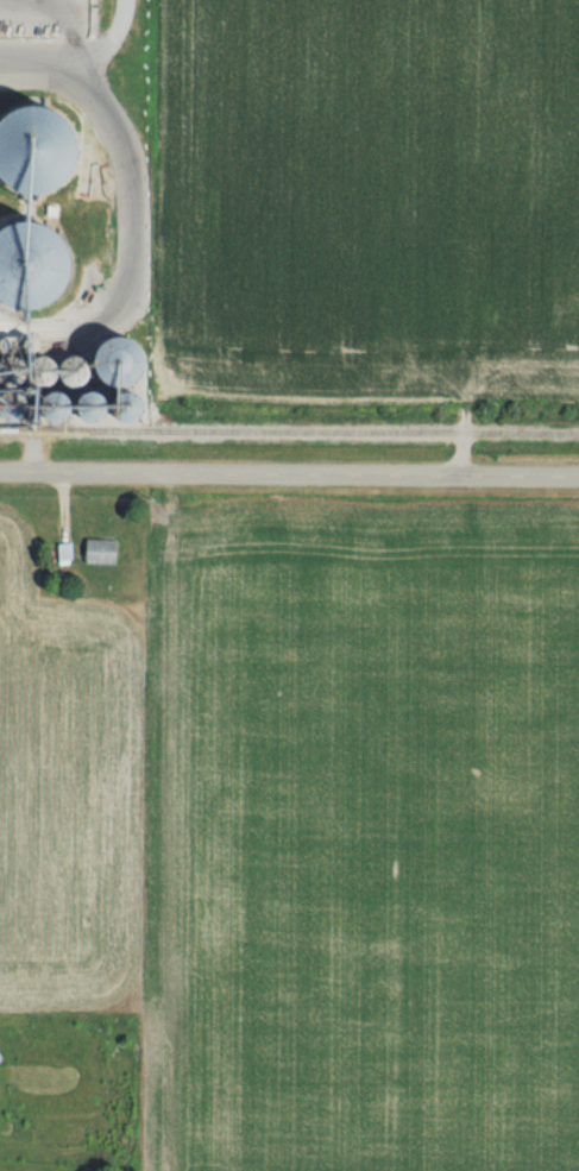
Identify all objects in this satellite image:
road: (81, 64)
building: (12, 145)
storage tank: (37, 170)
building: (8, 260)
storage tank: (33, 262)
building: (61, 333)
storage tank: (15, 344)
storage tank: (33, 345)
storage tank: (122, 361)
storage tank: (13, 373)
storage tank: (48, 374)
storage tank: (81, 376)
building: (65, 382)
storage tank: (112, 407)
storage tank: (14, 408)
storage tank: (75, 408)
railway: (289, 432)
road: (289, 476)
building: (95, 552)
building: (56, 554)

